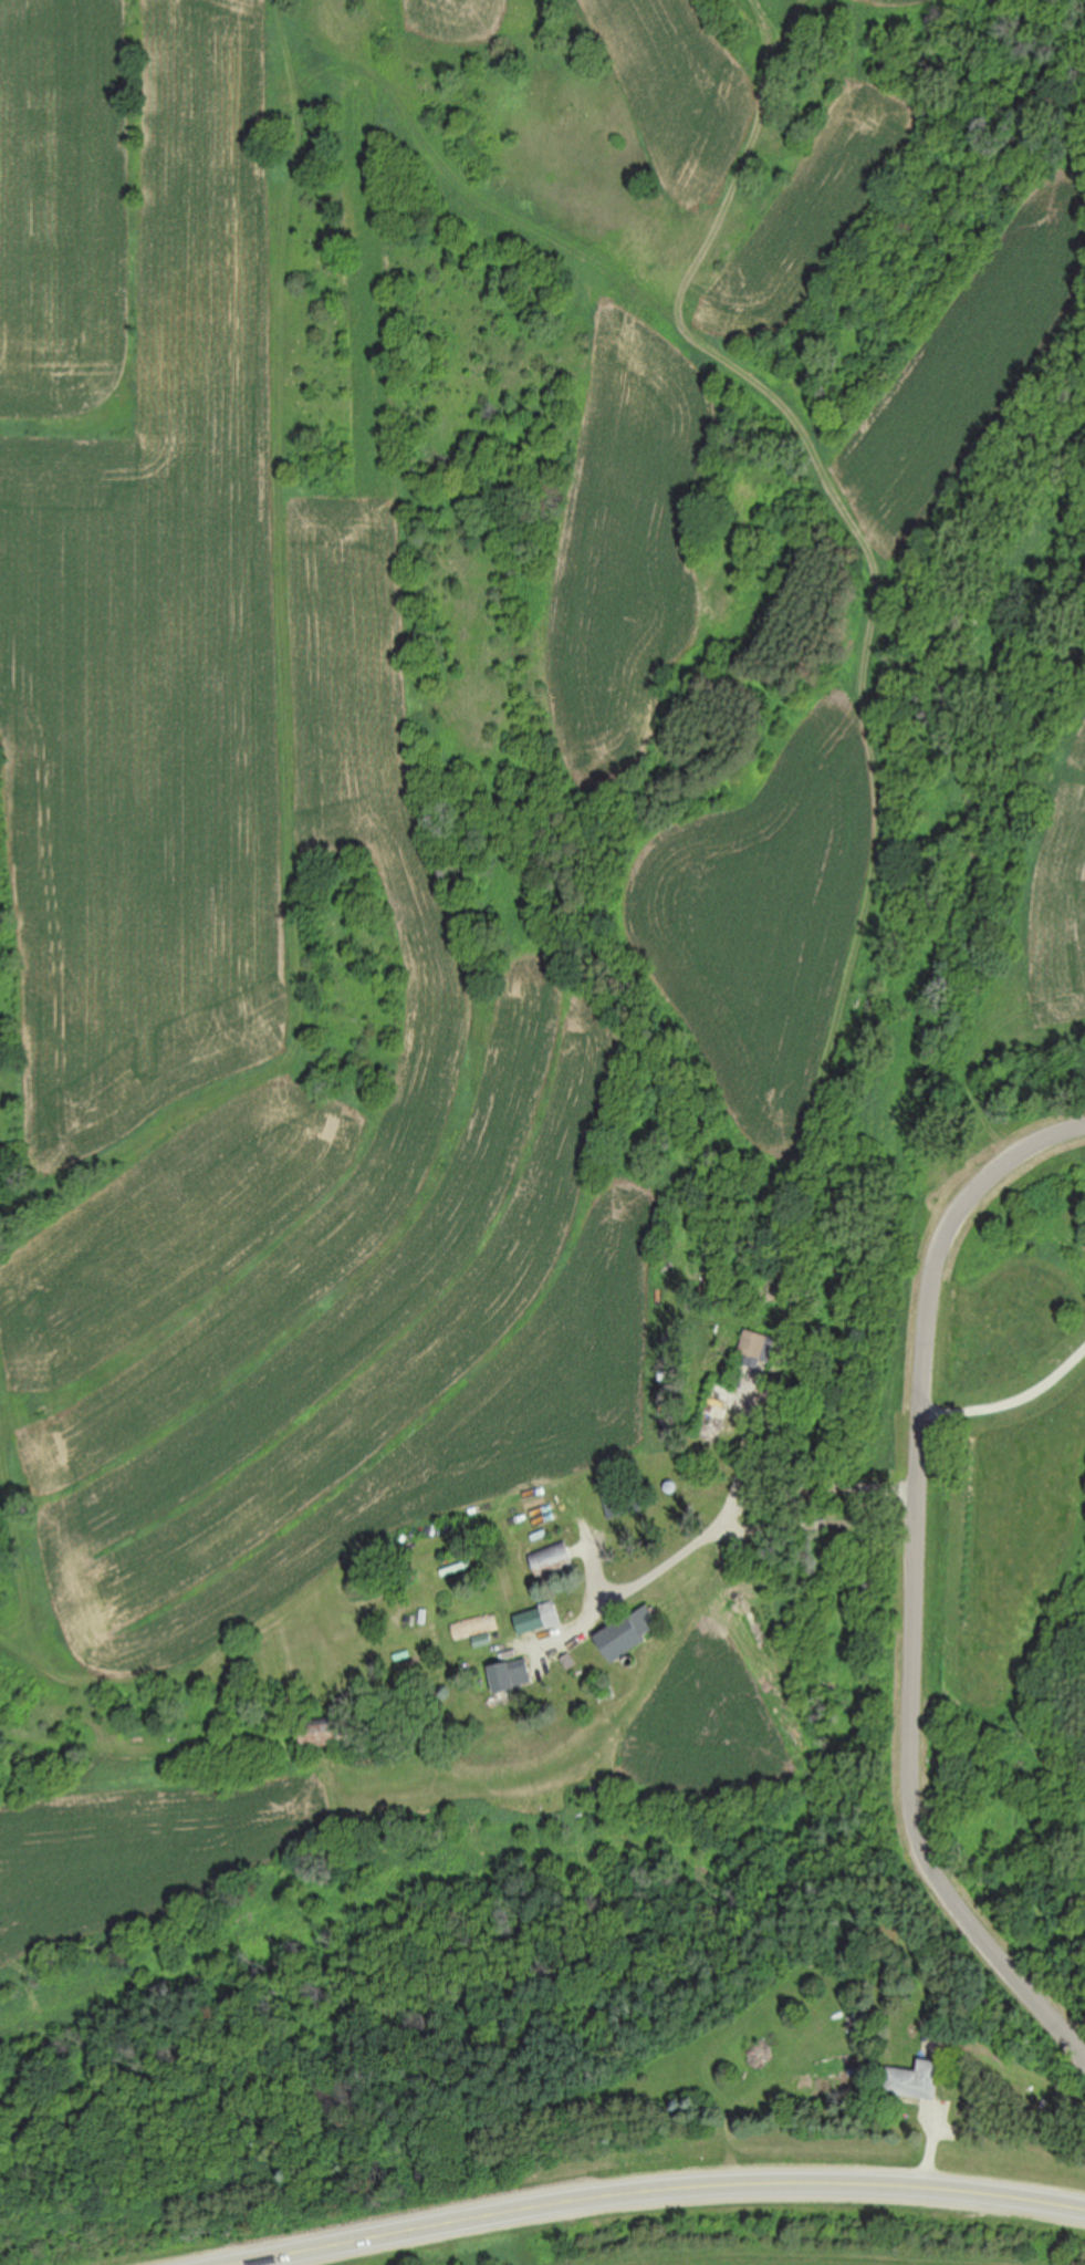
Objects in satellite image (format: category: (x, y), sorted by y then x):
building: (757, 1346)
road: (1015, 1402)
road: (763, 1502)
building: (613, 1503)
building: (552, 1562)
road: (924, 1572)
building: (539, 1619)
building: (627, 1633)
building: (511, 1675)
building: (914, 2081)
road: (664, 2186)
crop: (757, 2234)

